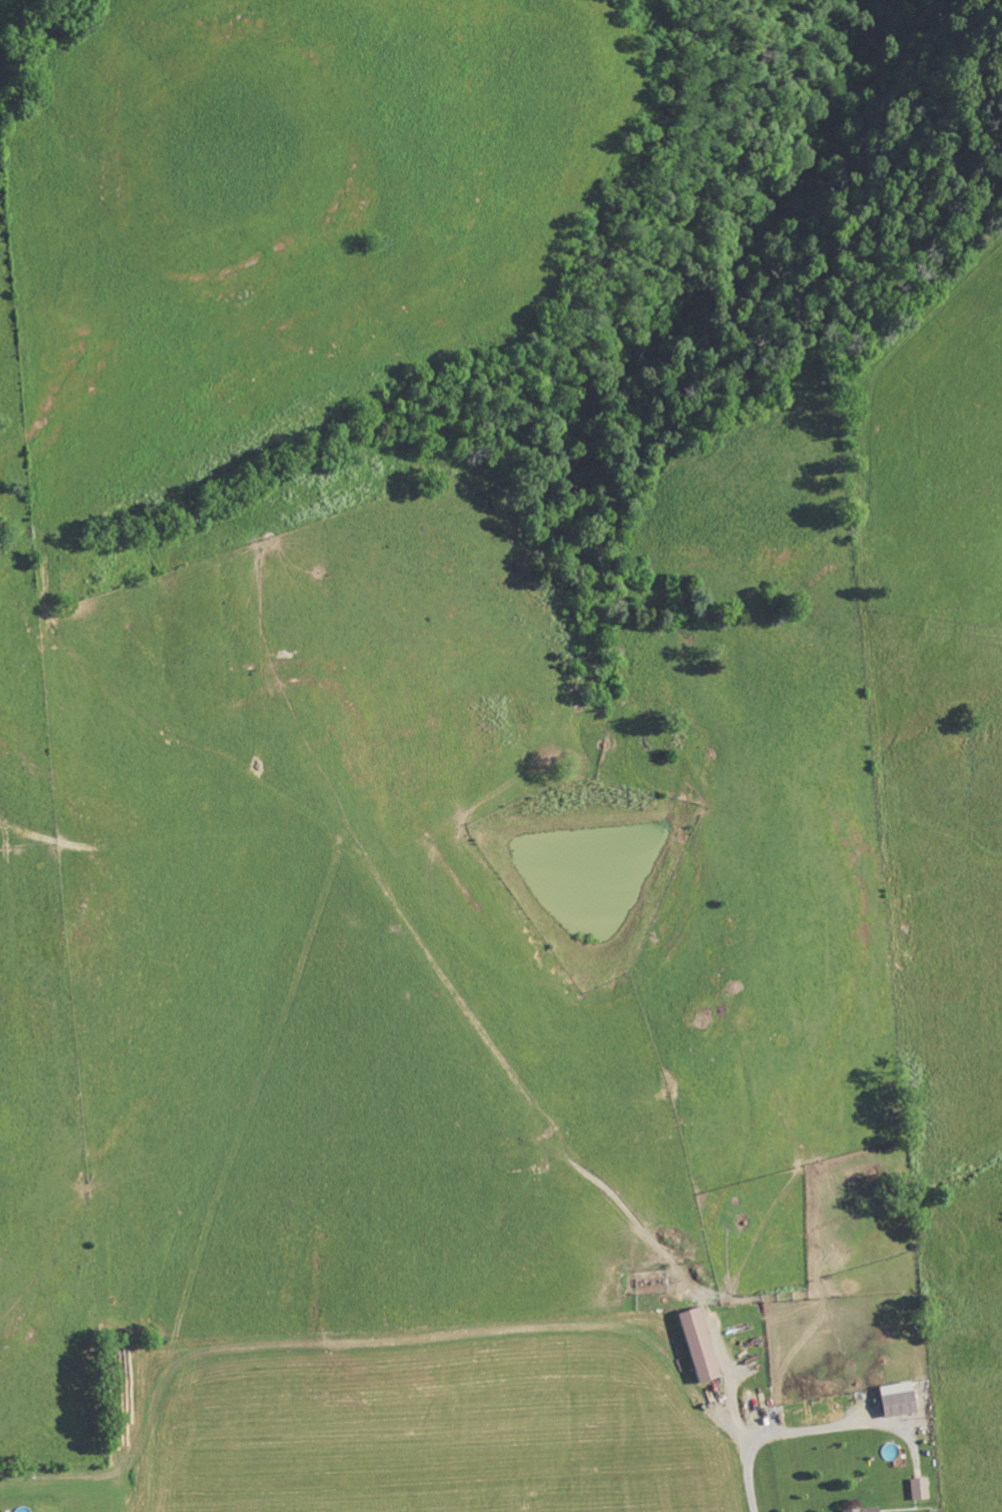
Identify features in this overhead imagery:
building: (702, 1344)
building: (901, 1399)
road: (739, 1422)
road: (806, 1432)
building: (921, 1489)
building: (865, 1510)

